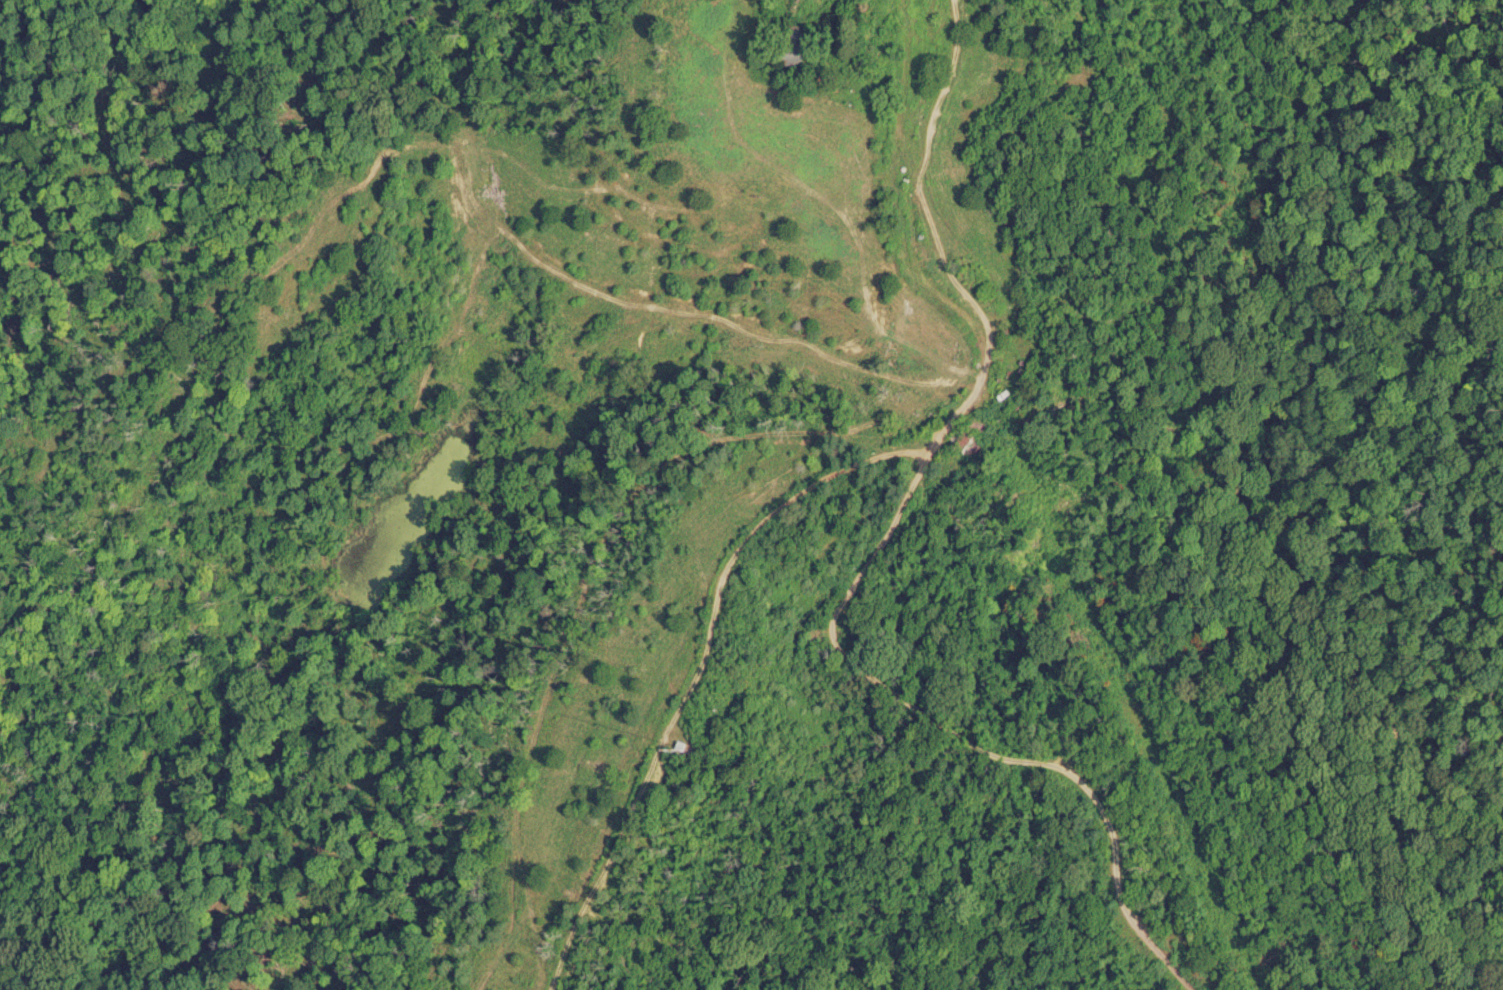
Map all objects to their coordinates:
building: (799, 56)
road: (883, 190)
road: (1029, 341)
road: (891, 716)

